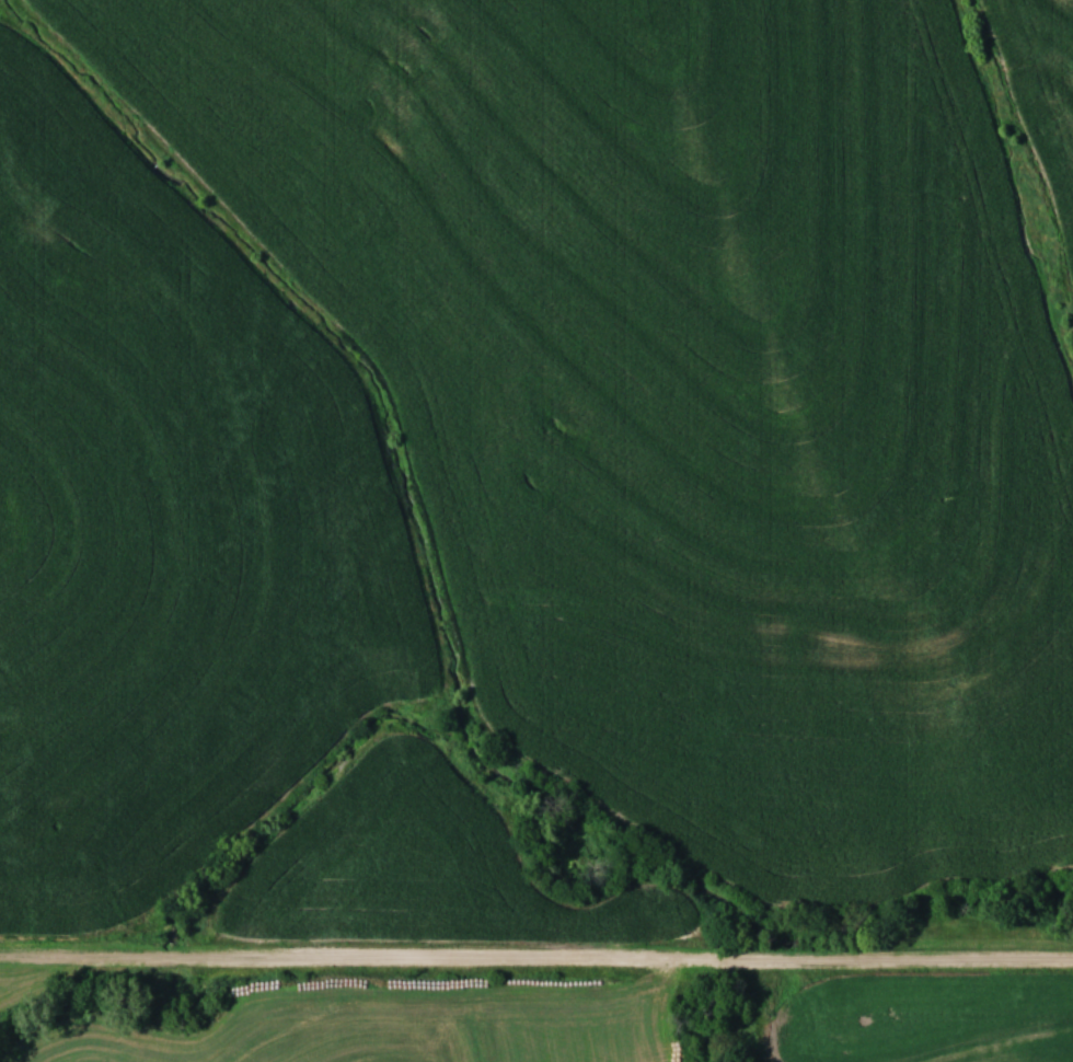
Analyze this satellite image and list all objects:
road: (536, 957)

